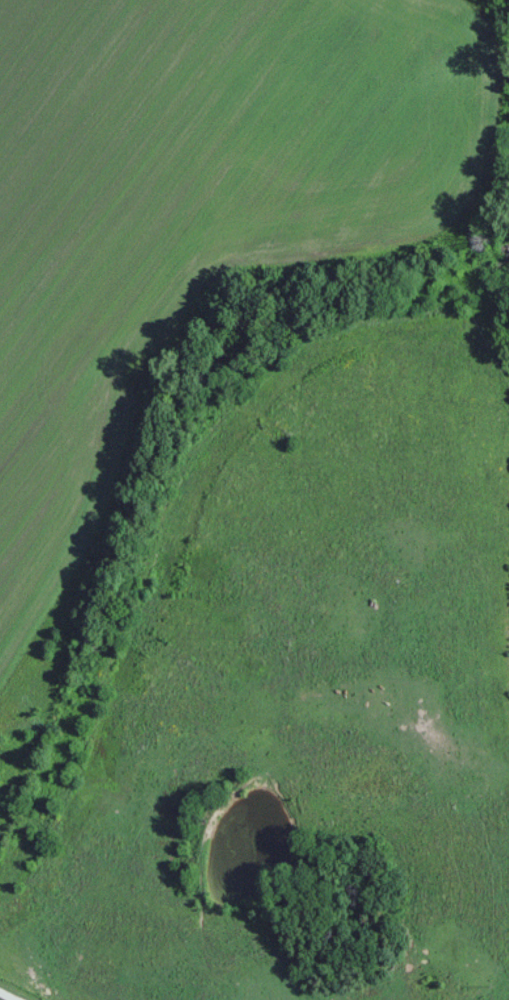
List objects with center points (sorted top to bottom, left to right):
crop: (196, 197)
road: (8, 995)

